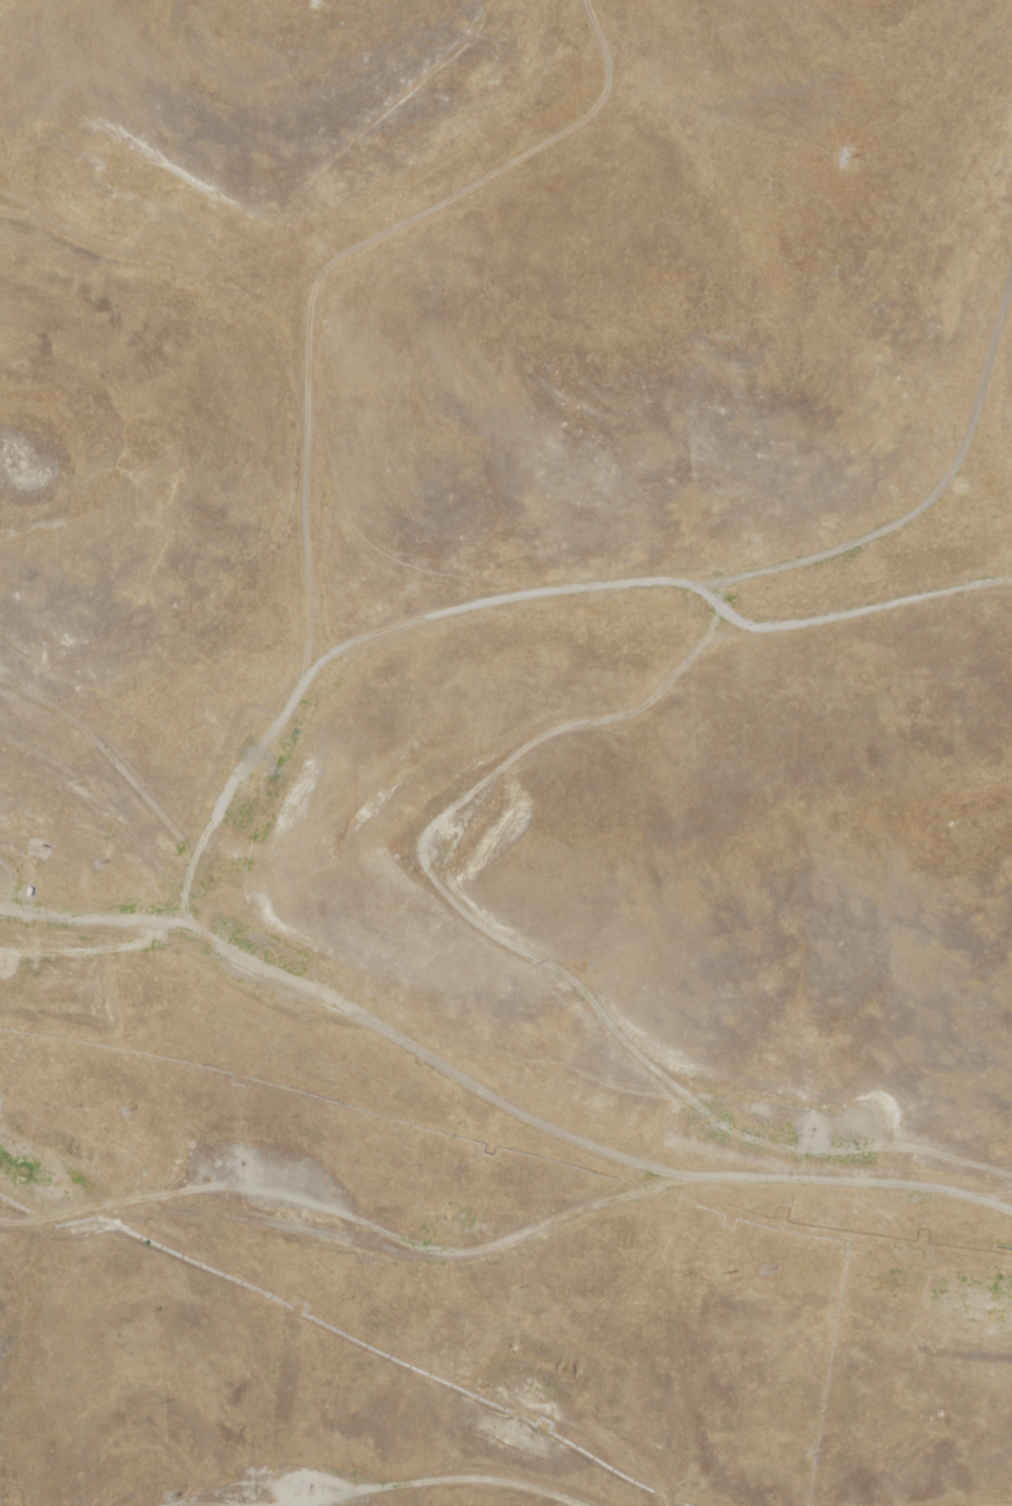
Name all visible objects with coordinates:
road: (440, 885)
road: (10, 991)
road: (254, 1101)
road: (770, 1206)
road: (36, 1281)
road: (242, 1310)

